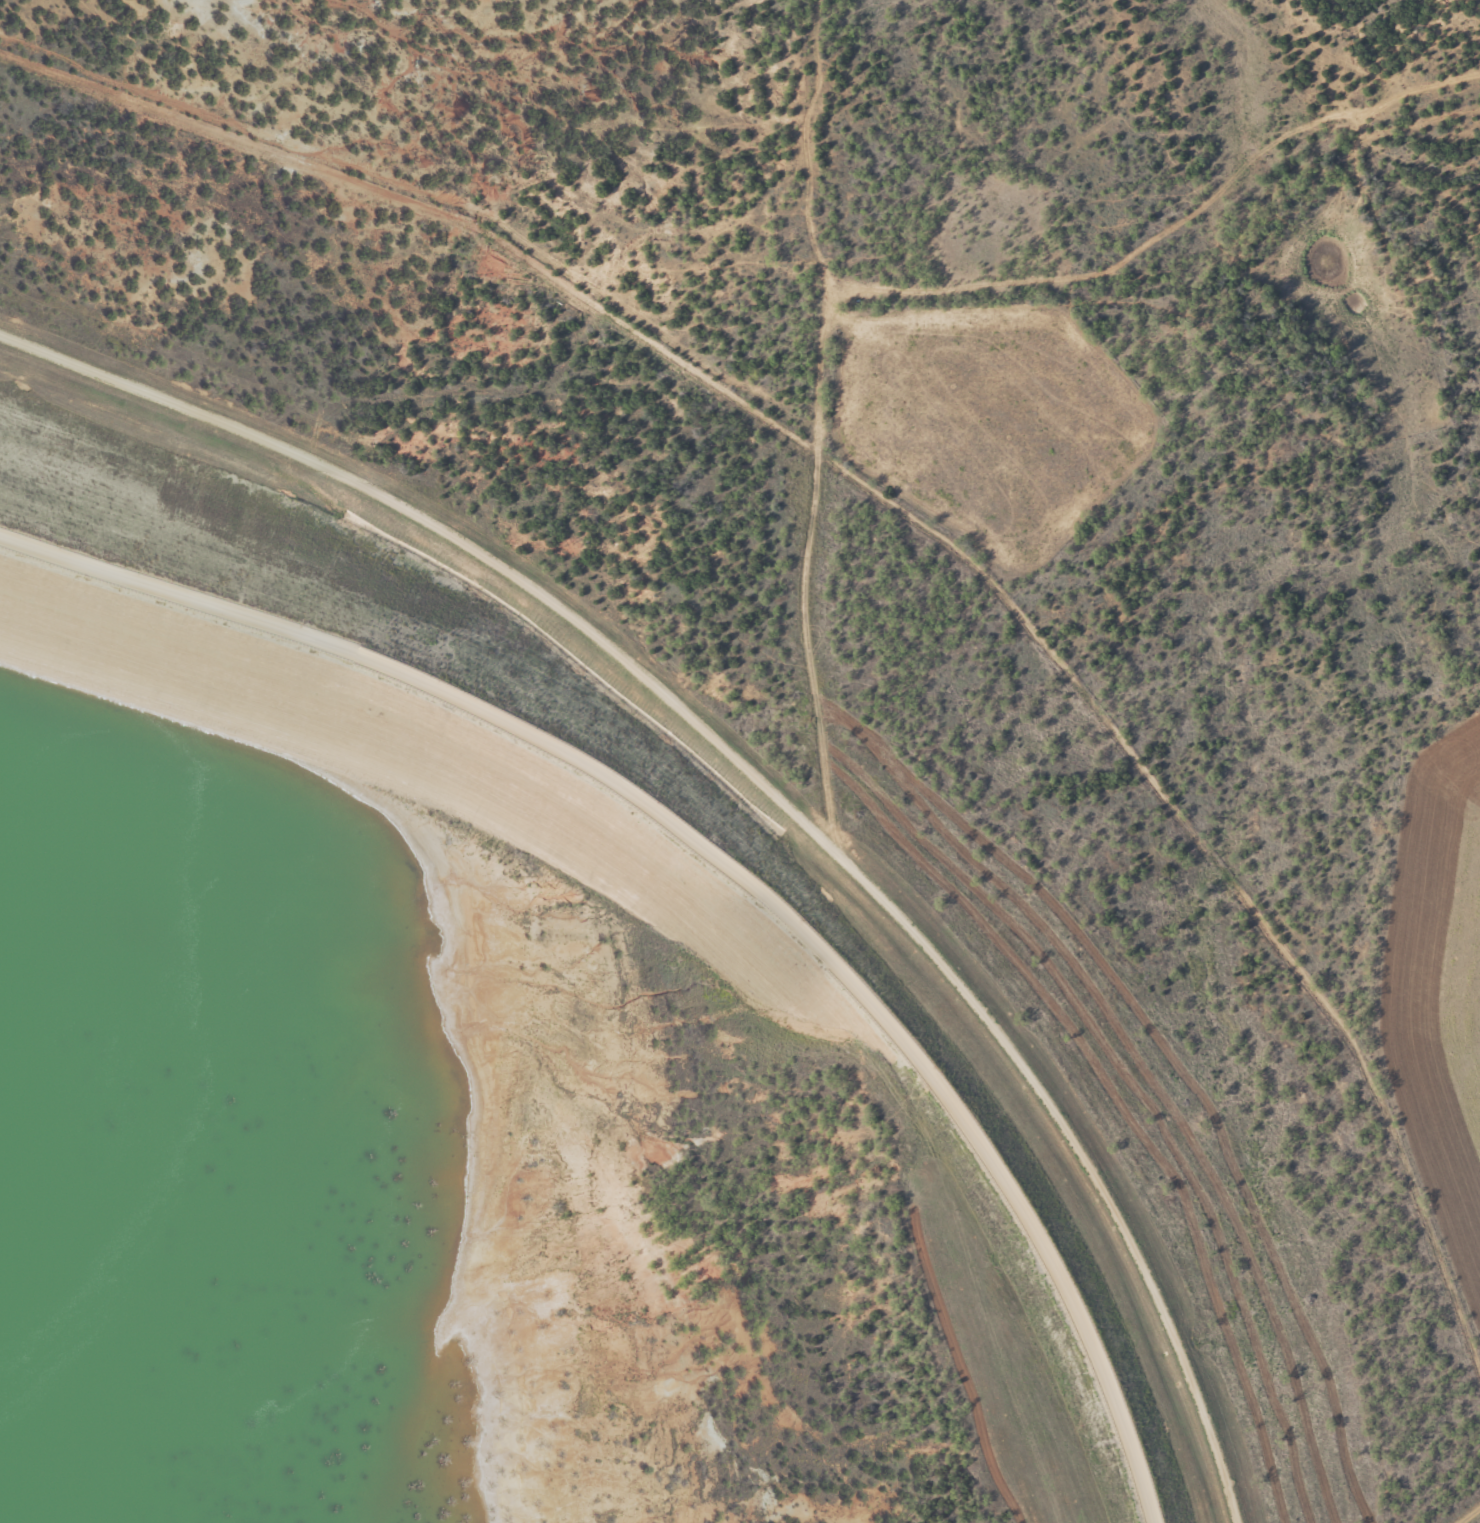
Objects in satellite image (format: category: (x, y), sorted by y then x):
road: (409, 500)
road: (760, 526)
road: (729, 860)

